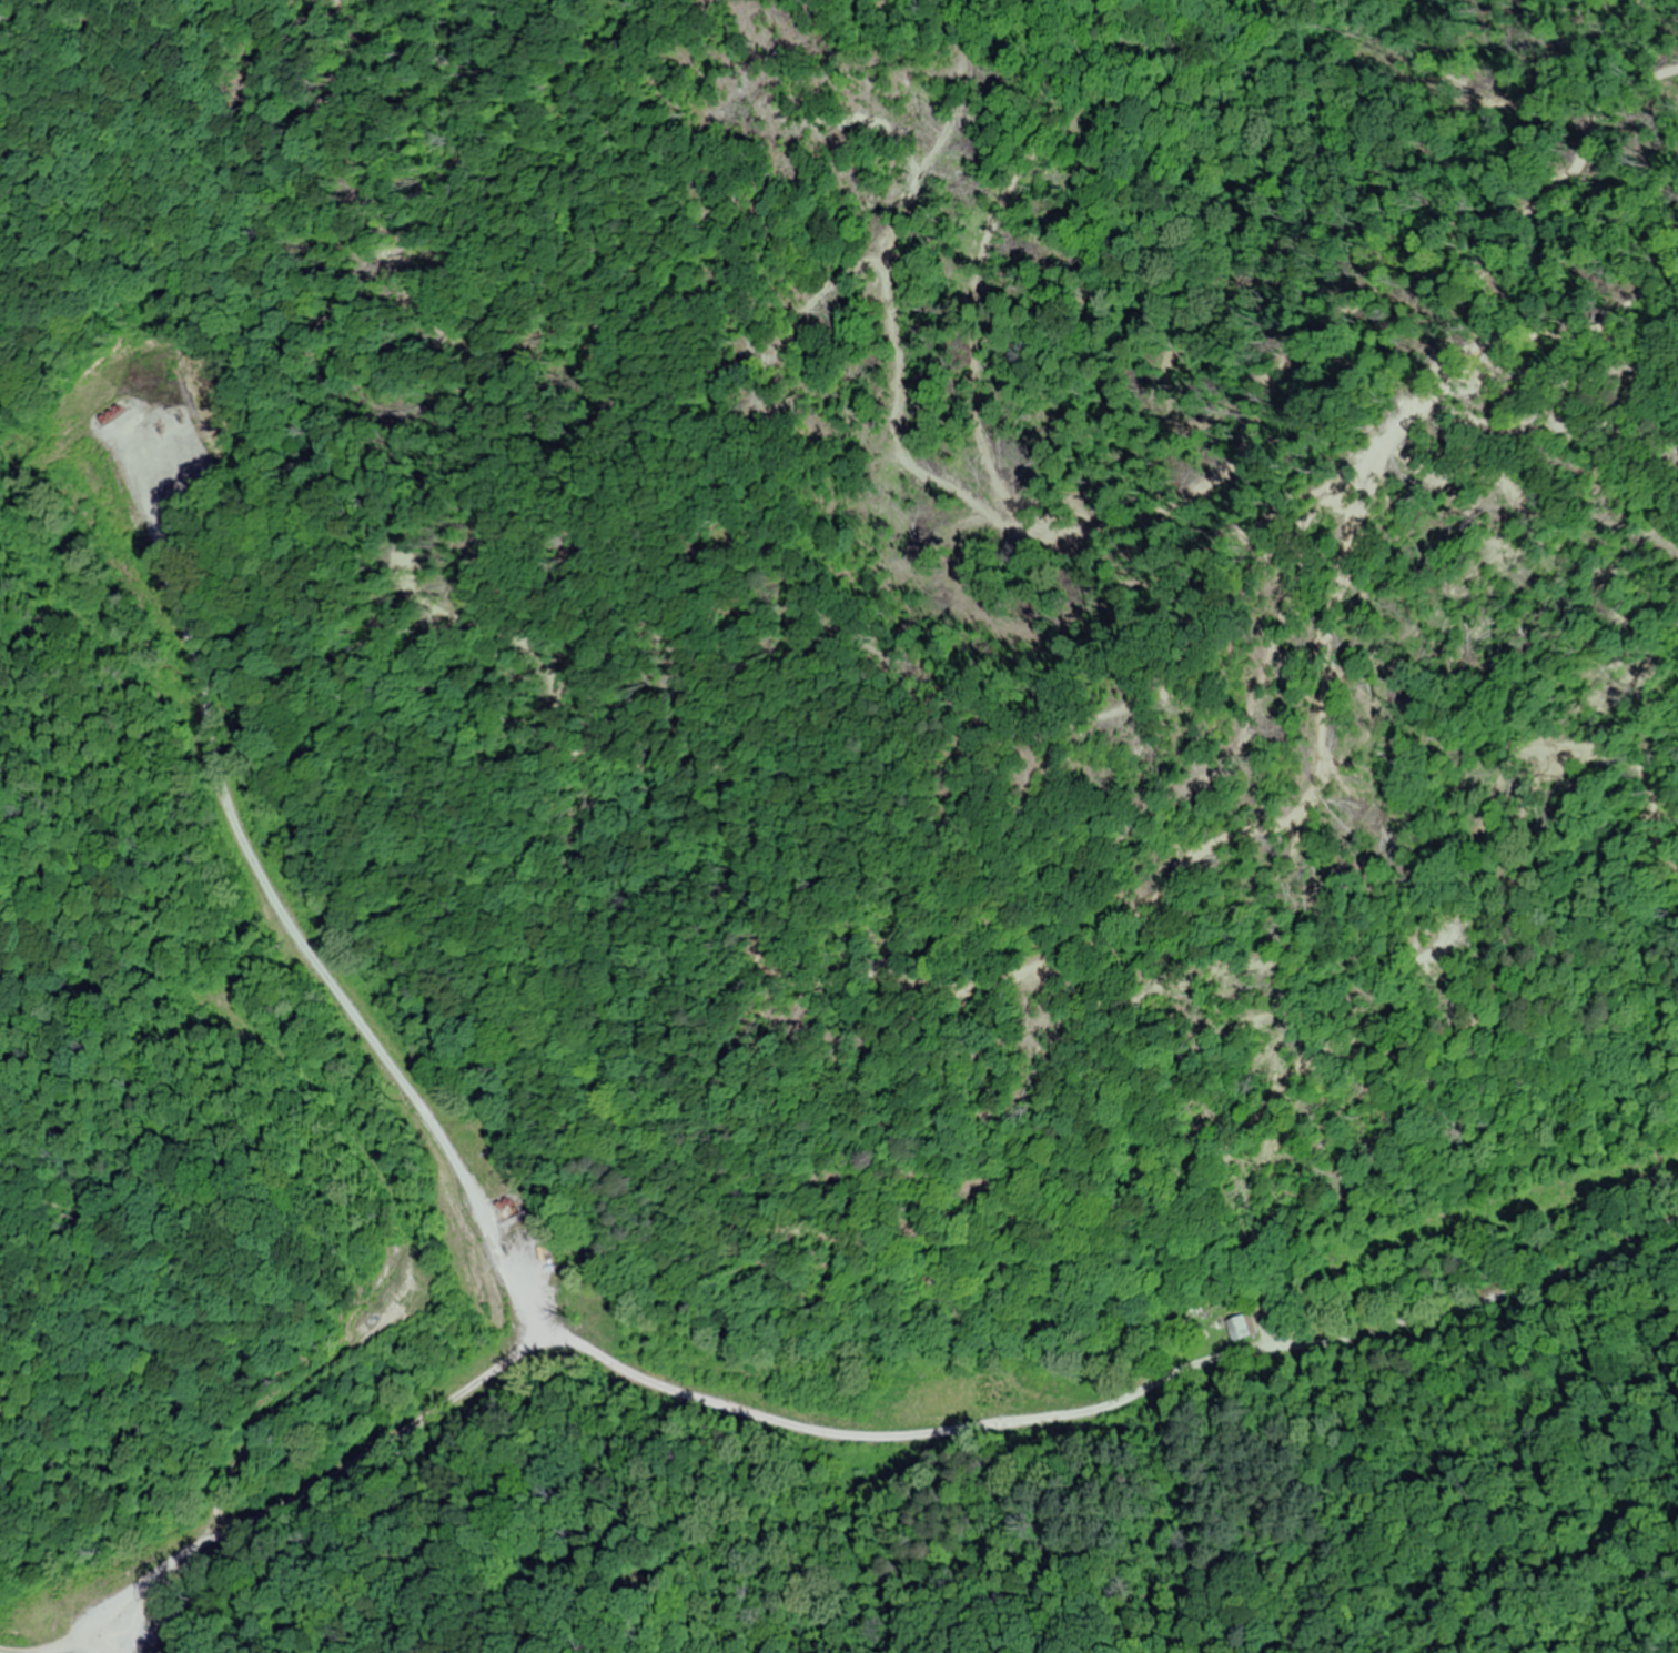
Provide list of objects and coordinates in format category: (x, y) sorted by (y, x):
building: (1251, 1324)
road: (1436, 1361)

